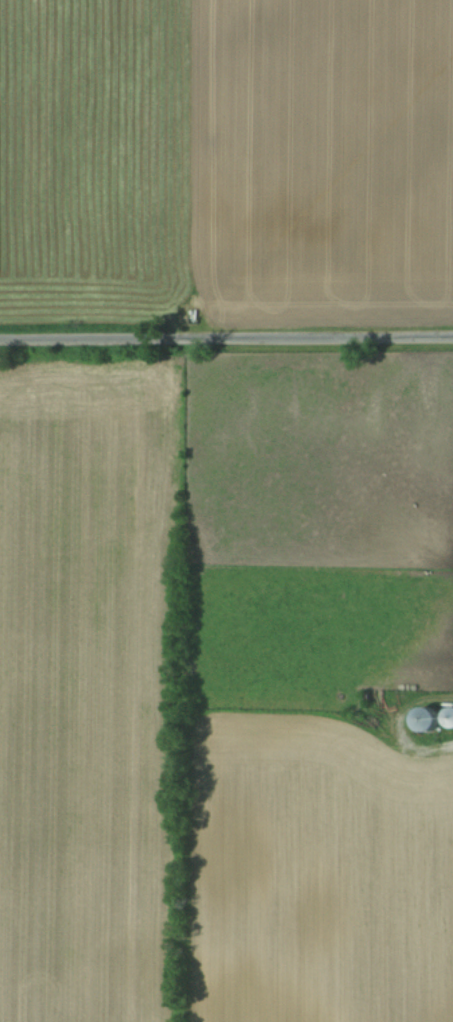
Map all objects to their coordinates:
road: (226, 339)
building: (448, 718)
building: (424, 719)

